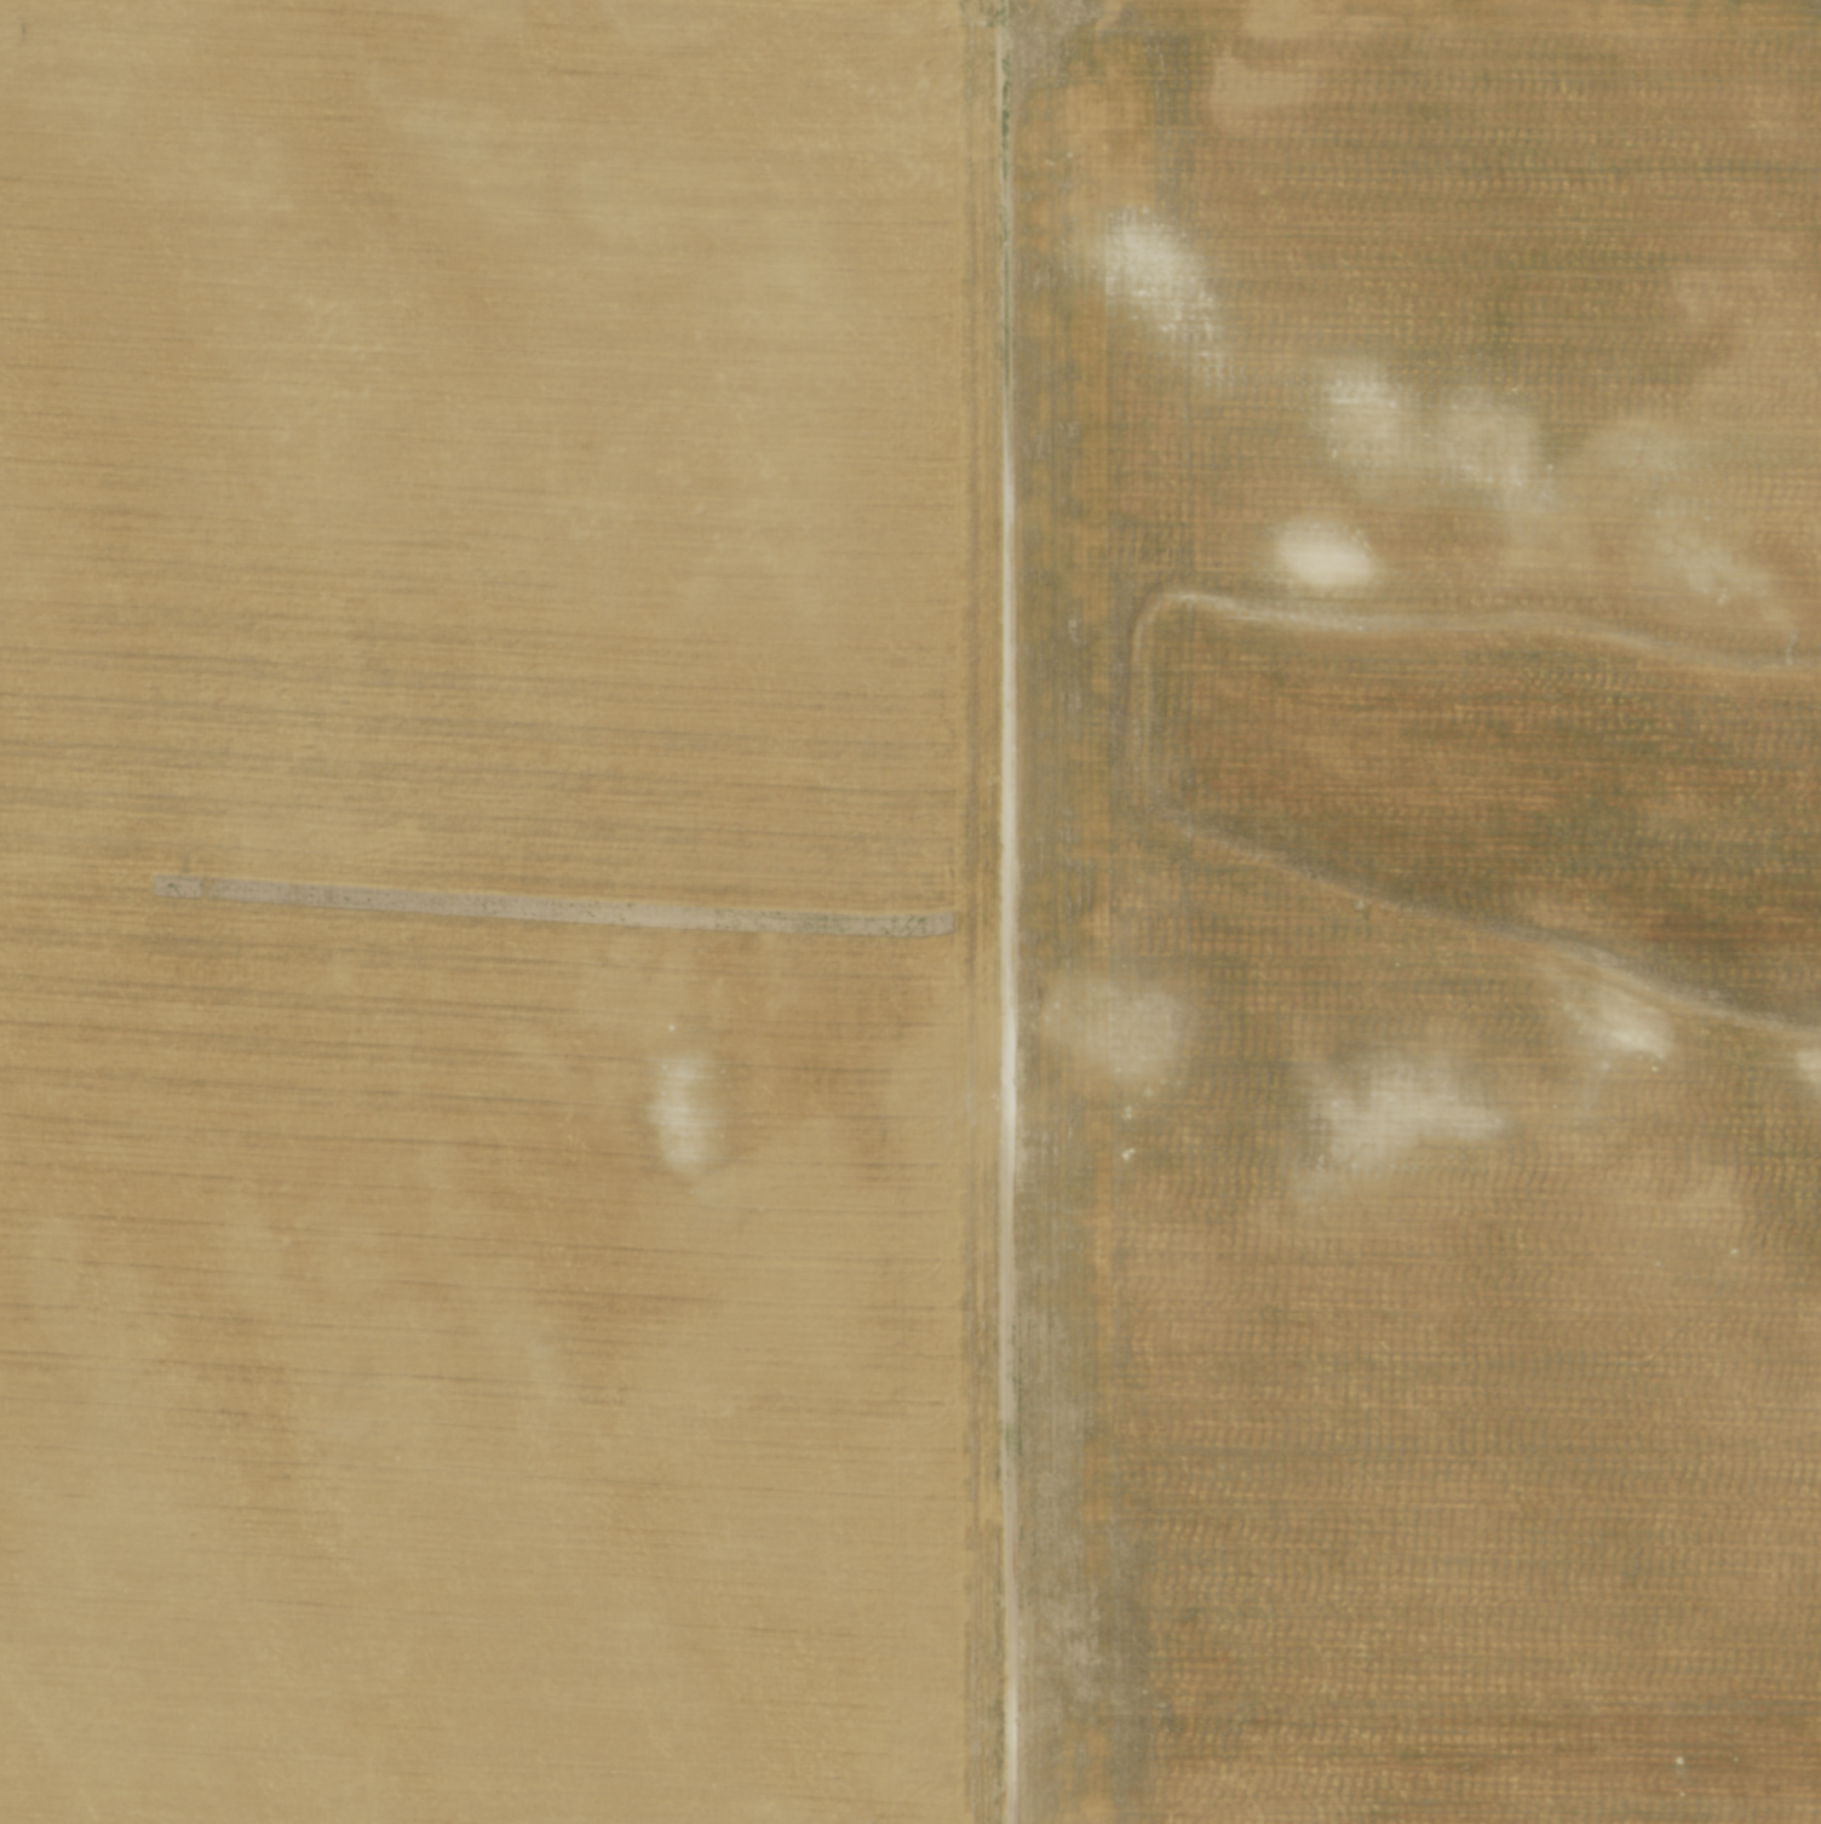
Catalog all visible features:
crop: (910, 912)

